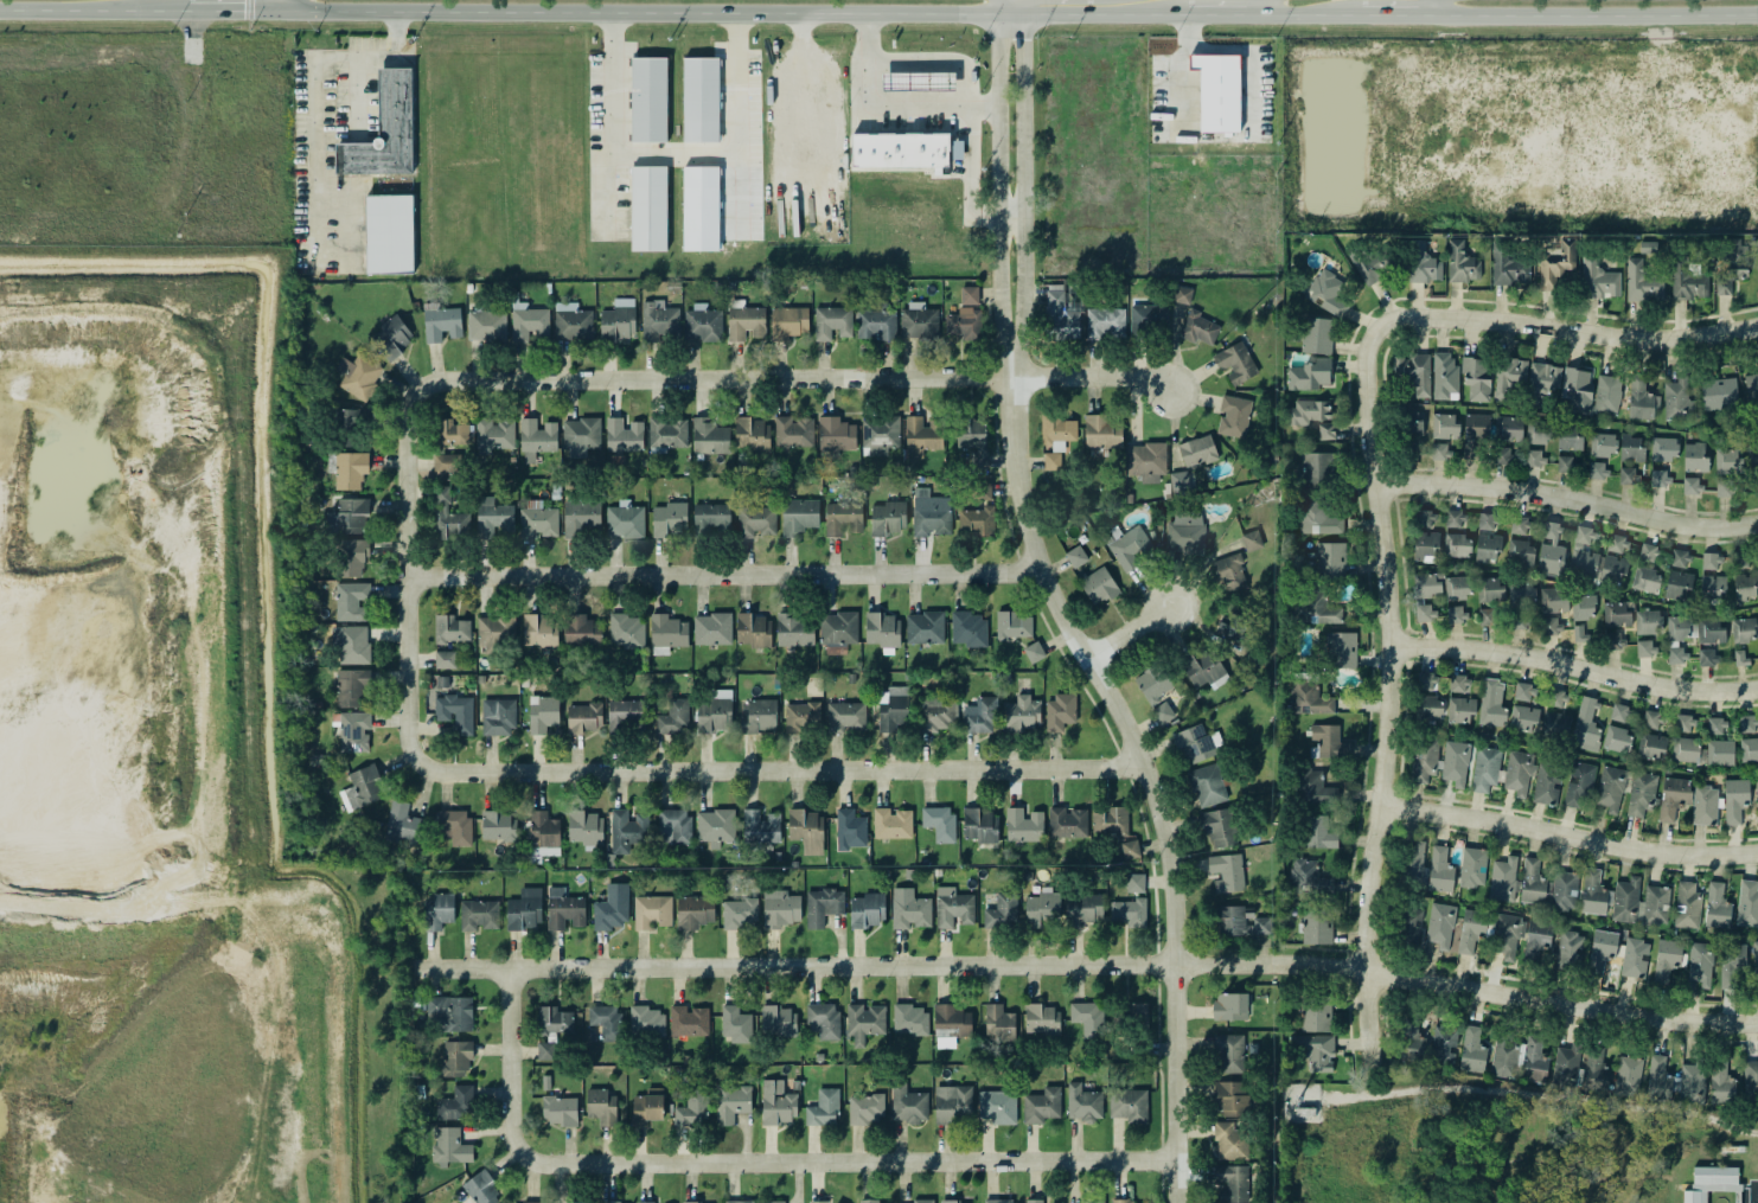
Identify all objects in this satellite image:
road: (267, 5)
road: (299, 5)
road: (1264, 7)
road: (1438, 7)
road: (84, 8)
road: (210, 9)
traffic signals: (251, 9)
road: (260, 9)
road: (283, 9)
road: (733, 12)
road: (1215, 13)
road: (1598, 13)
road: (1304, 14)
road: (1392, 14)
road: (1251, 57)
road: (1180, 70)
building: (918, 82)
building: (1217, 92)
road: (357, 95)
building: (648, 98)
building: (699, 98)
road: (312, 101)
road: (884, 108)
road: (605, 122)
building: (384, 132)
road: (733, 148)
building: (899, 148)
building: (957, 151)
road: (971, 175)
road: (999, 187)
road: (1024, 187)
building: (648, 207)
building: (699, 209)
road: (351, 224)
building: (388, 235)
building: (1648, 247)
building: (1459, 262)
building: (1423, 265)
building: (1376, 267)
building: (1508, 270)
building: (1599, 280)
building: (1688, 281)
building: (1642, 282)
building: (1328, 293)
building: (970, 295)
building: (1187, 295)
building: (1061, 316)
building: (1148, 316)
building: (659, 319)
building: (619, 320)
building: (573, 321)
building: (744, 321)
building: (919, 321)
building: (529, 322)
building: (703, 322)
building: (788, 322)
building: (832, 322)
building: (1105, 322)
building: (442, 324)
building: (487, 324)
building: (964, 324)
building: (875, 325)
road: (1574, 326)
building: (1201, 329)
building: (1317, 335)
building: (391, 338)
building: (1235, 361)
building: (1414, 373)
building: (358, 375)
building: (1309, 375)
road: (806, 376)
building: (1507, 376)
building: (1445, 377)
building: (1476, 378)
building: (1542, 382)
building: (1751, 384)
building: (1577, 390)
building: (1719, 392)
building: (1607, 393)
building: (1642, 398)
building: (1677, 401)
building: (1309, 411)
building: (1234, 416)
building: (1445, 425)
building: (350, 427)
building: (1508, 429)
building: (1327, 430)
building: (1540, 430)
building: (453, 431)
building: (667, 431)
building: (793, 431)
building: (1057, 431)
building: (1101, 431)
building: (1475, 433)
building: (753, 434)
building: (836, 434)
building: (880, 434)
building: (493, 435)
building: (624, 435)
building: (972, 435)
building: (581, 436)
building: (921, 436)
building: (1568, 436)
building: (537, 437)
building: (710, 437)
building: (1603, 443)
building: (1631, 448)
building: (1439, 450)
building: (1534, 457)
building: (1695, 457)
building: (1754, 457)
building: (1051, 461)
building: (1149, 461)
building: (1728, 461)
building: (1565, 463)
building: (1317, 468)
building: (351, 469)
building: (1598, 469)
building: (1628, 475)
building: (1660, 478)
building: (1692, 485)
building: (1728, 487)
building: (982, 488)
road: (1571, 495)
building: (447, 499)
building: (931, 513)
building: (347, 516)
building: (582, 516)
building: (711, 516)
building: (799, 516)
building: (493, 518)
building: (843, 518)
building: (888, 518)
building: (1318, 518)
building: (1423, 518)
building: (1455, 518)
building: (669, 519)
building: (625, 520)
building: (756, 520)
building: (977, 520)
building: (538, 521)
building: (1185, 536)
building: (1488, 538)
building: (1252, 540)
building: (1520, 543)
building: (1618, 544)
building: (1425, 545)
building: (1458, 545)
building: (1129, 546)
building: (1552, 551)
building: (1648, 552)
building: (1076, 556)
building: (352, 557)
building: (1594, 558)
building: (1681, 558)
building: (1330, 559)
road: (414, 561)
building: (1711, 561)
road: (730, 571)
building: (1229, 572)
building: (1647, 580)
building: (1677, 584)
building: (1099, 585)
building: (1746, 585)
building: (1457, 588)
building: (1489, 589)
building: (1712, 589)
building: (1425, 594)
building: (1556, 600)
building: (351, 601)
building: (1521, 603)
building: (1584, 606)
building: (1456, 613)
building: (1487, 616)
building: (1617, 620)
building: (1648, 621)
building: (1012, 625)
building: (1234, 626)
building: (1552, 626)
building: (925, 627)
building: (712, 628)
building: (970, 628)
building: (1677, 628)
building: (450, 629)
building: (496, 629)
building: (754, 629)
building: (838, 629)
building: (882, 629)
road: (1132, 629)
building: (1711, 629)
building: (1745, 629)
building: (541, 631)
building: (582, 631)
building: (626, 631)
building: (795, 631)
building: (667, 633)
building: (1579, 633)
building: (353, 645)
building: (1645, 647)
building: (1342, 650)
building: (1676, 655)
building: (1707, 657)
building: (1740, 657)
building: (445, 659)
road: (1578, 663)
building: (1204, 668)
building: (1427, 682)
building: (1152, 683)
building: (1459, 684)
building: (351, 686)
road: (1395, 691)
building: (1523, 691)
building: (1559, 698)
building: (1310, 699)
building: (1491, 703)
building: (1431, 708)
building: (894, 709)
building: (1460, 709)
building: (715, 711)
building: (1060, 711)
building: (455, 712)
building: (1163, 712)
building: (1622, 712)
building: (543, 714)
building: (626, 714)
building: (936, 714)
building: (1023, 714)
building: (673, 716)
building: (759, 716)
building: (800, 716)
building: (845, 716)
building: (980, 716)
building: (498, 717)
building: (1523, 717)
building: (584, 718)
building: (1651, 719)
building: (1555, 723)
building: (1685, 723)
building: (1749, 723)
building: (1586, 725)
building: (1715, 725)
building: (354, 731)
building: (1617, 740)
building: (1329, 741)
building: (1197, 743)
building: (1651, 744)
building: (1686, 749)
building: (1749, 749)
building: (1720, 751)
landfill: (171, 757)
building: (1424, 760)
building: (1456, 762)
road: (784, 767)
building: (1485, 768)
road: (1155, 774)
building: (1547, 781)
building: (1579, 783)
building: (1207, 785)
building: (362, 788)
building: (1757, 789)
building: (1317, 791)
building: (1609, 795)
building: (1674, 796)
building: (1735, 799)
building: (1705, 805)
building: (1067, 821)
building: (403, 823)
building: (893, 823)
building: (939, 823)
building: (980, 825)
building: (1024, 825)
building: (455, 826)
building: (499, 826)
building: (673, 826)
building: (716, 826)
building: (761, 826)
building: (1220, 826)
building: (586, 827)
building: (851, 827)
building: (1117, 828)
building: (544, 830)
building: (627, 830)
building: (806, 830)
building: (1321, 831)
road: (1572, 833)
building: (1473, 866)
building: (1430, 869)
building: (1225, 871)
building: (1309, 877)
building: (1503, 878)
building: (1136, 882)
building: (1532, 882)
building: (1564, 890)
building: (1594, 892)
building: (1628, 900)
building: (1747, 903)
building: (1656, 904)
building: (823, 906)
building: (1687, 906)
building: (1717, 906)
building: (612, 907)
building: (780, 908)
building: (953, 908)
building: (1042, 908)
building: (1083, 908)
building: (525, 909)
building: (564, 909)
building: (868, 909)
building: (439, 910)
building: (652, 911)
building: (695, 911)
building: (740, 913)
building: (910, 913)
building: (1002, 913)
building: (1127, 913)
building: (479, 914)
building: (1234, 920)
building: (1317, 924)
building: (1413, 924)
building: (1440, 924)
building: (1262, 926)
building: (1471, 929)
building: (1508, 933)
building: (1536, 940)
building: (1570, 948)
building: (1602, 949)
building: (1635, 956)
building: (1668, 959)
road: (1091, 961)
building: (1756, 962)
building: (1700, 964)
building: (1732, 964)
building: (1229, 1006)
building: (452, 1011)
building: (1138, 1016)
building: (1316, 1017)
building: (554, 1018)
building: (1088, 1018)
building: (823, 1019)
building: (910, 1019)
building: (1042, 1019)
building: (689, 1020)
building: (779, 1020)
building: (864, 1020)
building: (646, 1022)
building: (998, 1023)
building: (735, 1024)
building: (951, 1024)
building: (1412, 1038)
building: (1444, 1044)
building: (1316, 1050)
building: (1472, 1050)
building: (1229, 1052)
building: (1504, 1057)
building: (456, 1058)
building: (1534, 1061)
building: (1566, 1064)
road: (519, 1066)
building: (1596, 1070)
building: (1628, 1075)
building: (1751, 1077)
building: (1658, 1079)
building: (1692, 1083)
building: (1721, 1084)
road: (1542, 1093)
building: (1232, 1098)
building: (455, 1102)
building: (731, 1102)
building: (778, 1102)
building: (1083, 1102)
building: (952, 1103)
building: (908, 1105)
building: (1042, 1105)
building: (1129, 1105)
building: (601, 1106)
building: (998, 1106)
building: (647, 1107)
building: (824, 1107)
building: (691, 1108)
building: (867, 1108)
building: (560, 1109)
building: (1230, 1141)
building: (449, 1146)
road: (858, 1159)
building: (1713, 1173)
road: (1590, 1180)
building: (1232, 1183)
road: (1682, 1186)
road: (1721, 1186)
road: (1743, 1186)
building: (481, 1189)
road: (1701, 1195)
building: (1689, 1196)
building: (613, 1201)
building: (869, 1201)
building: (923, 1201)
building: (998, 1201)
building: (1035, 1201)
building: (1095, 1201)
building: (578, 1202)
building: (647, 1202)
building: (775, 1202)
building: (819, 1202)
building: (963, 1202)
building: (1130, 1202)

